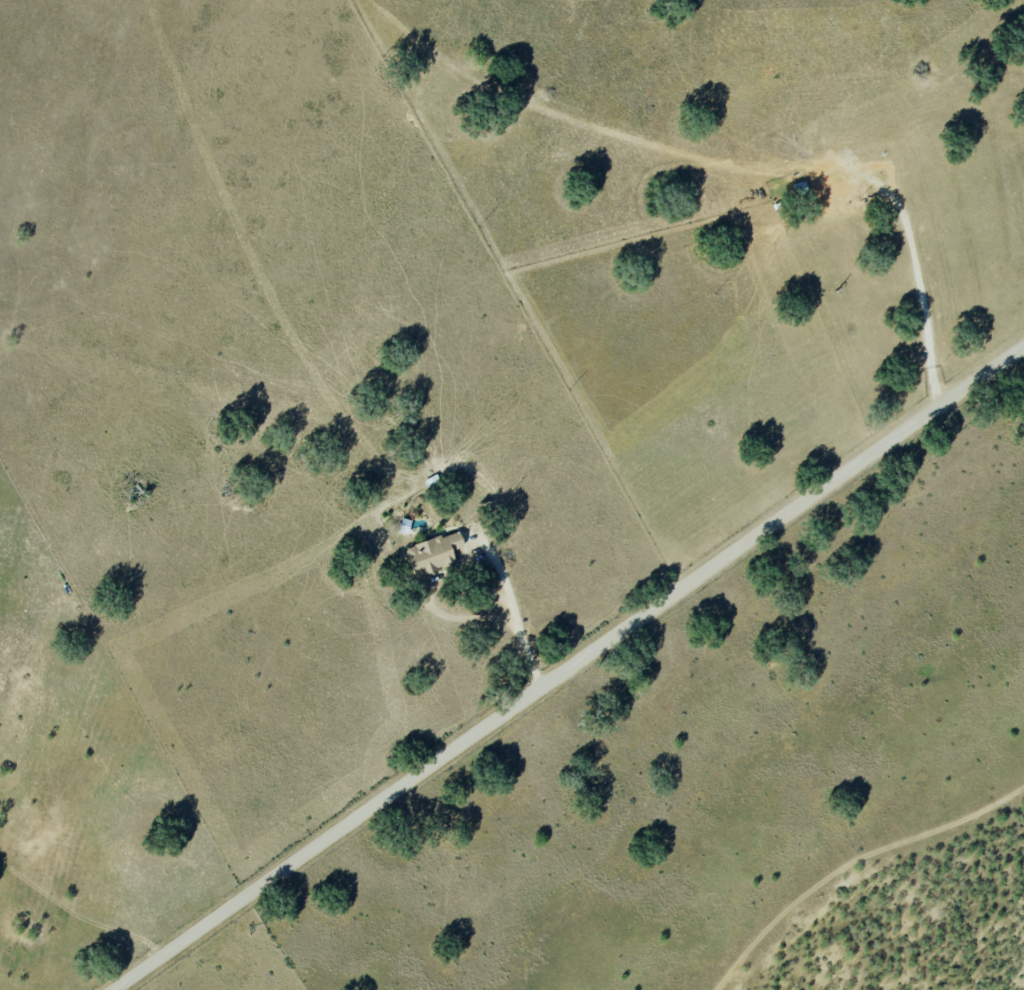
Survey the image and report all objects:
road: (516, 613)
road: (570, 669)

